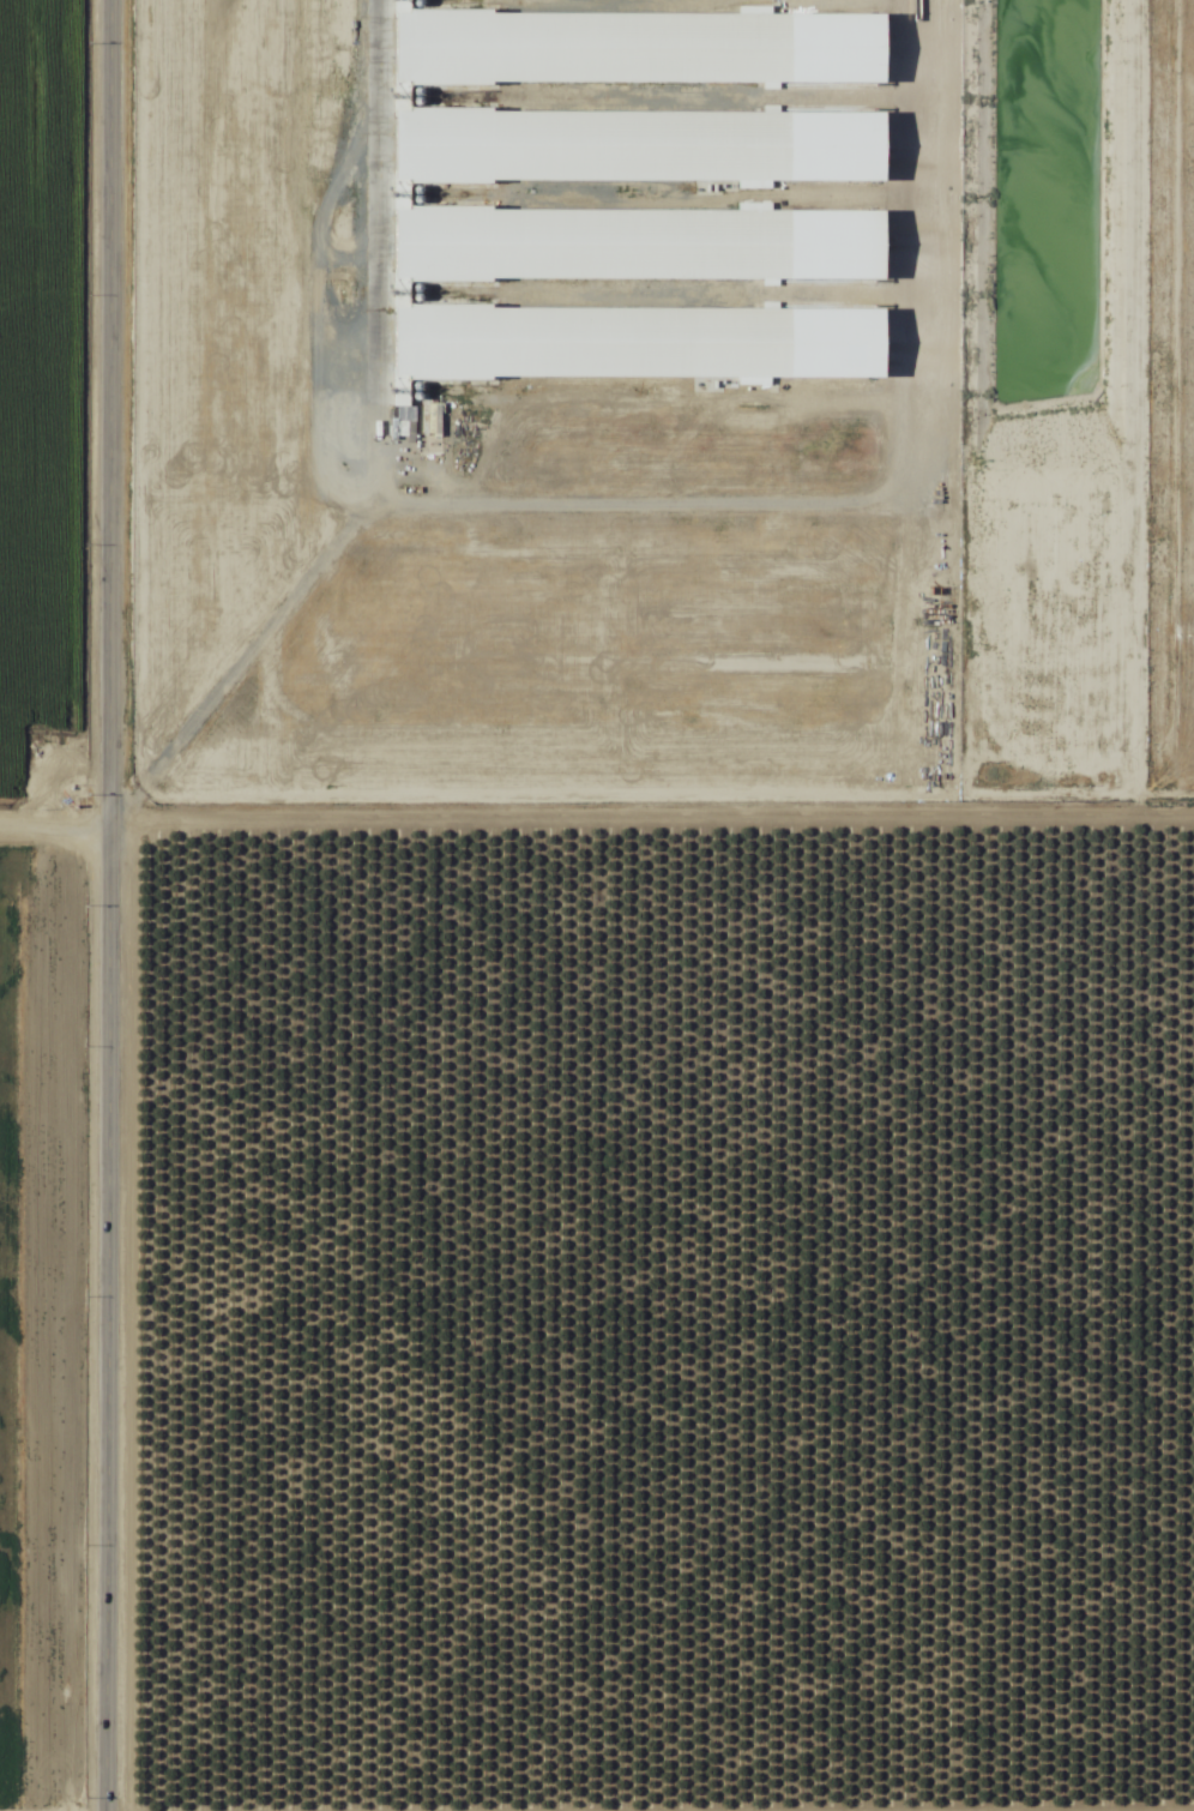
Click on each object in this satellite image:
road: (597, 814)
road: (104, 905)
road: (596, 1809)

